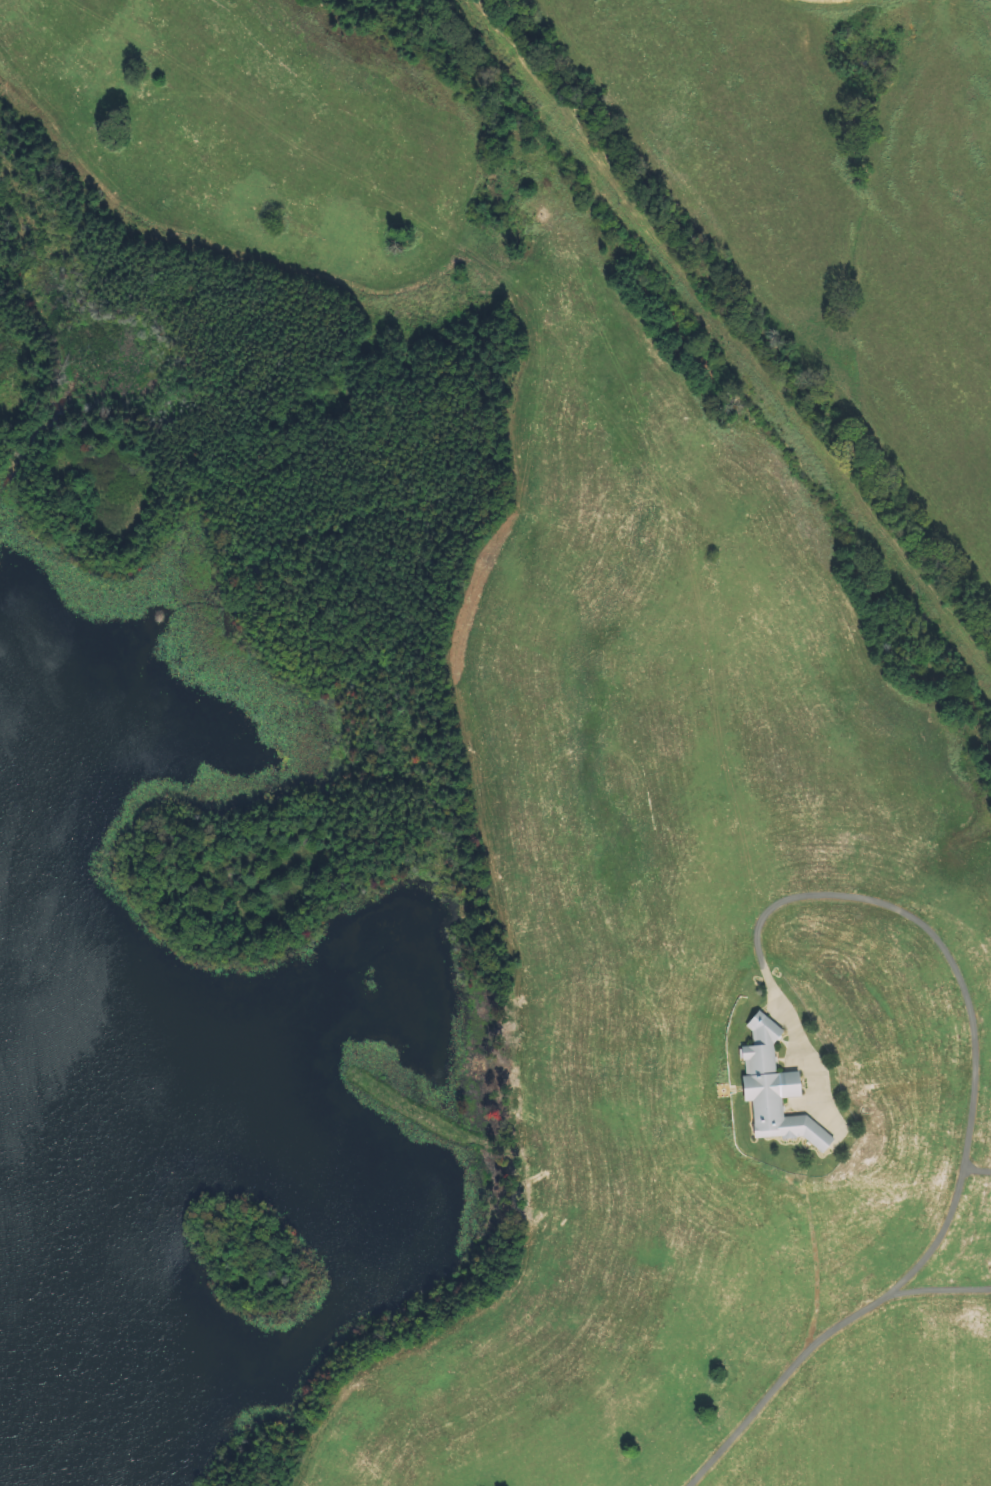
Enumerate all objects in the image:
building: (776, 1089)

